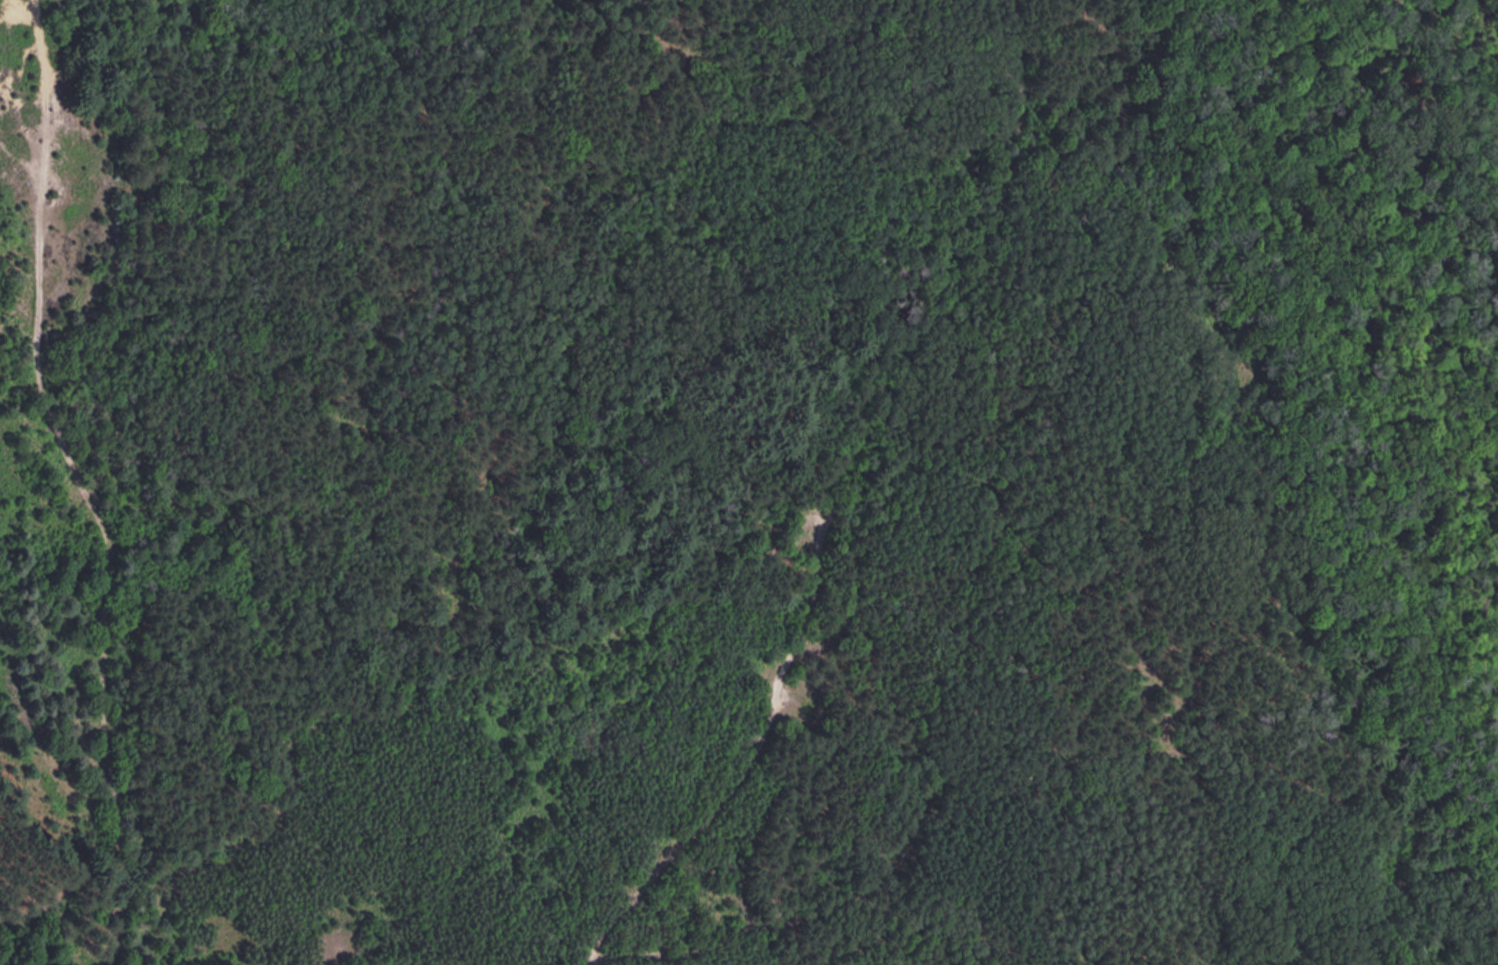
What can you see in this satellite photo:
road: (795, 489)

